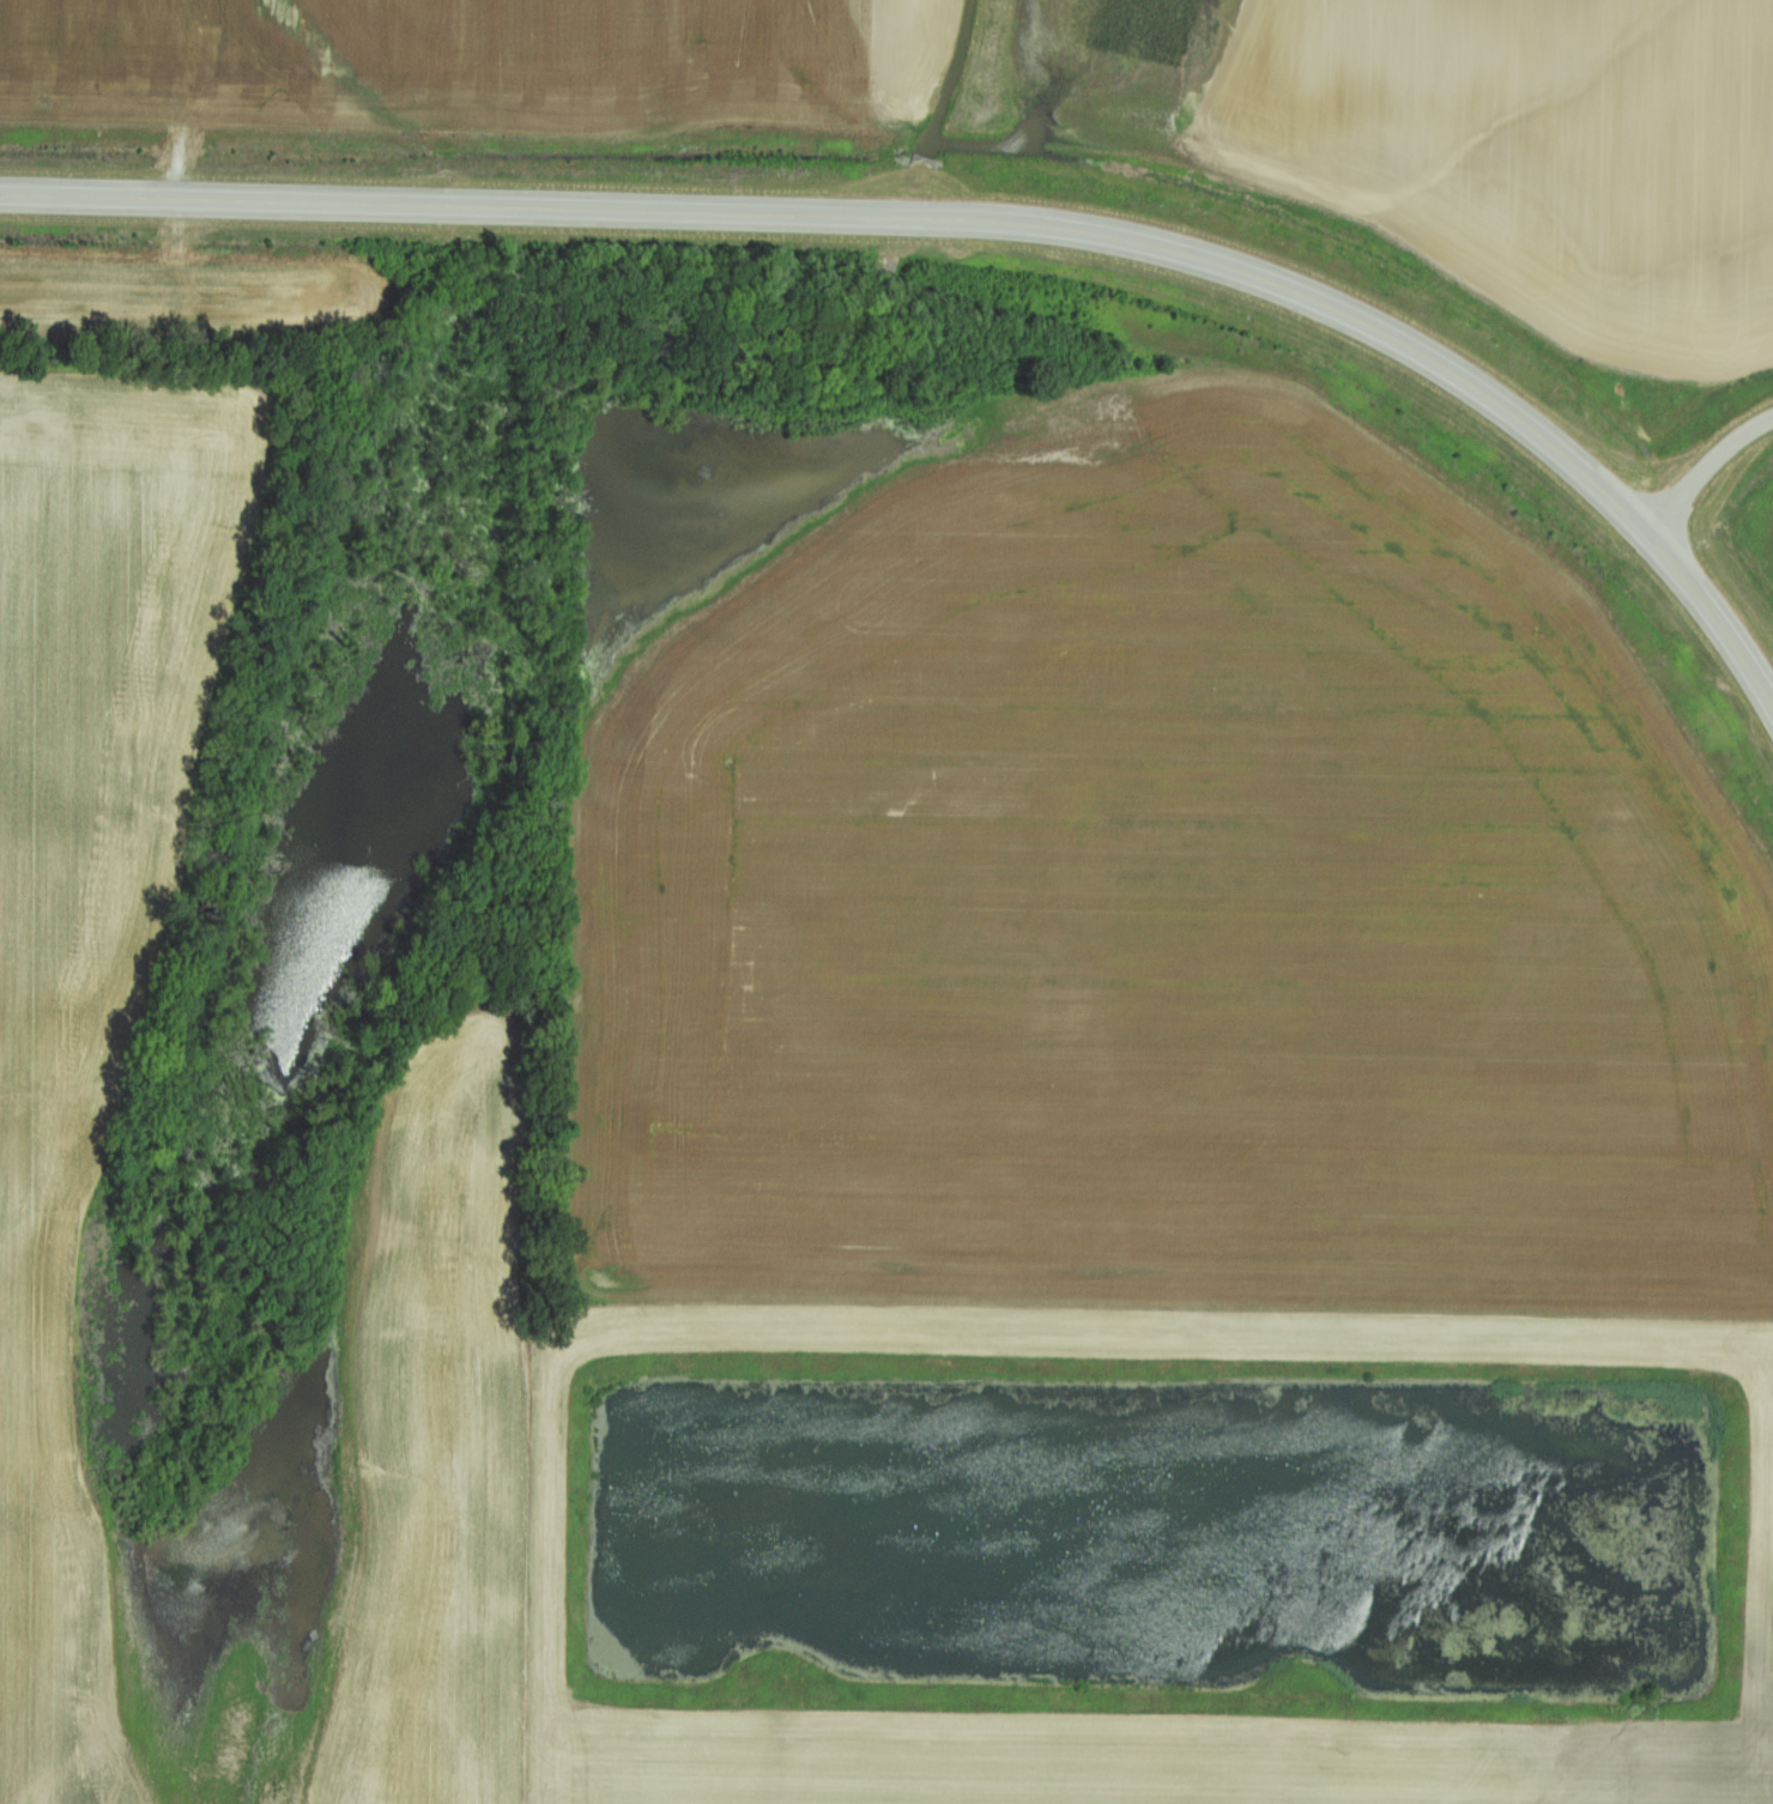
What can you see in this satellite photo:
road: (974, 222)
road: (1704, 470)

